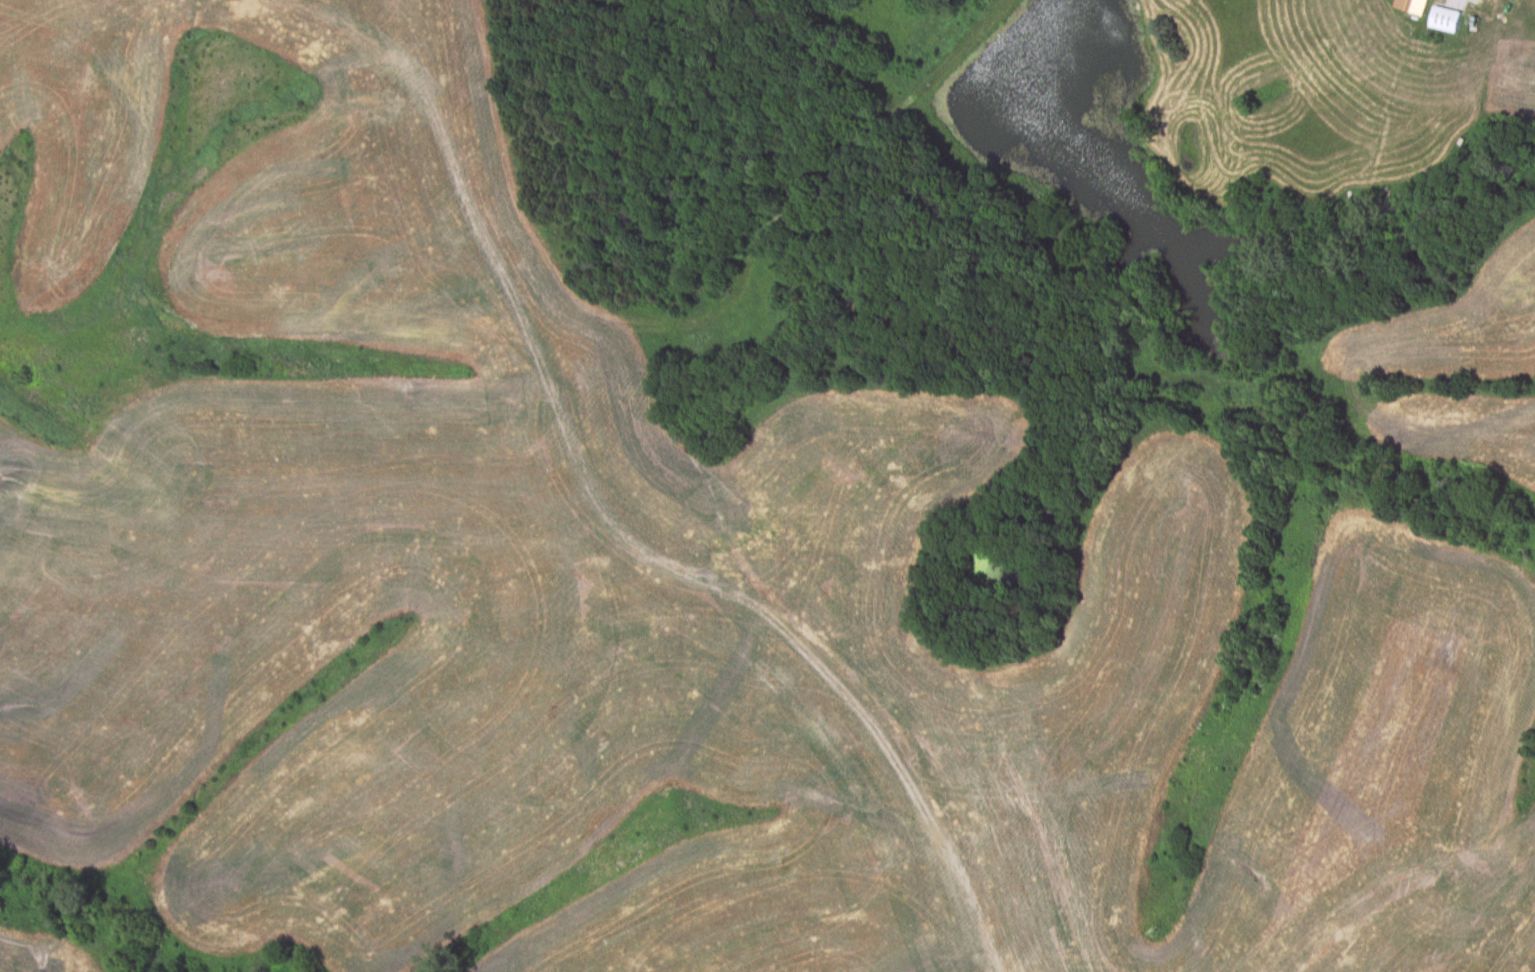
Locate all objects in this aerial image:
building: (1409, 6)
building: (1443, 19)

